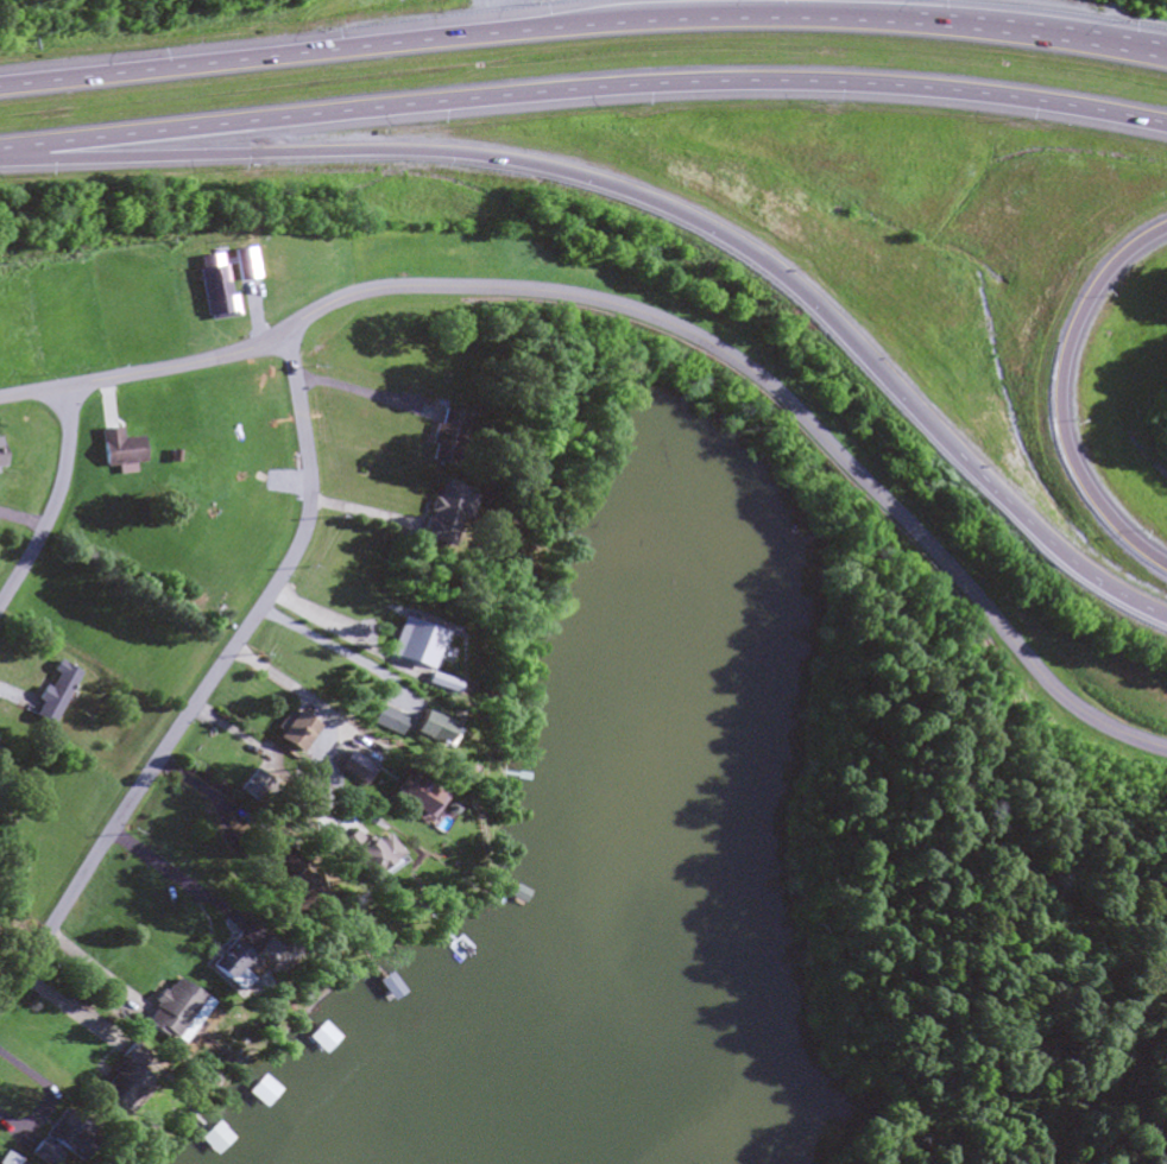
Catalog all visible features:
road: (543, 27)
road: (1128, 50)
road: (1128, 51)
road: (583, 90)
road: (452, 152)
road: (683, 334)
road: (1054, 397)
building: (441, 439)
building: (116, 450)
building: (1, 454)
road: (65, 470)
road: (996, 499)
building: (436, 517)
building: (400, 641)
road: (208, 684)
building: (53, 692)
building: (376, 720)
building: (418, 729)
building: (288, 733)
building: (248, 786)
building: (404, 796)
building: (361, 855)
park: (967, 926)
building: (222, 966)
building: (165, 1012)
building: (316, 1038)
building: (113, 1077)
building: (257, 1093)
building: (59, 1135)
building: (208, 1140)
building: (33, 1156)

